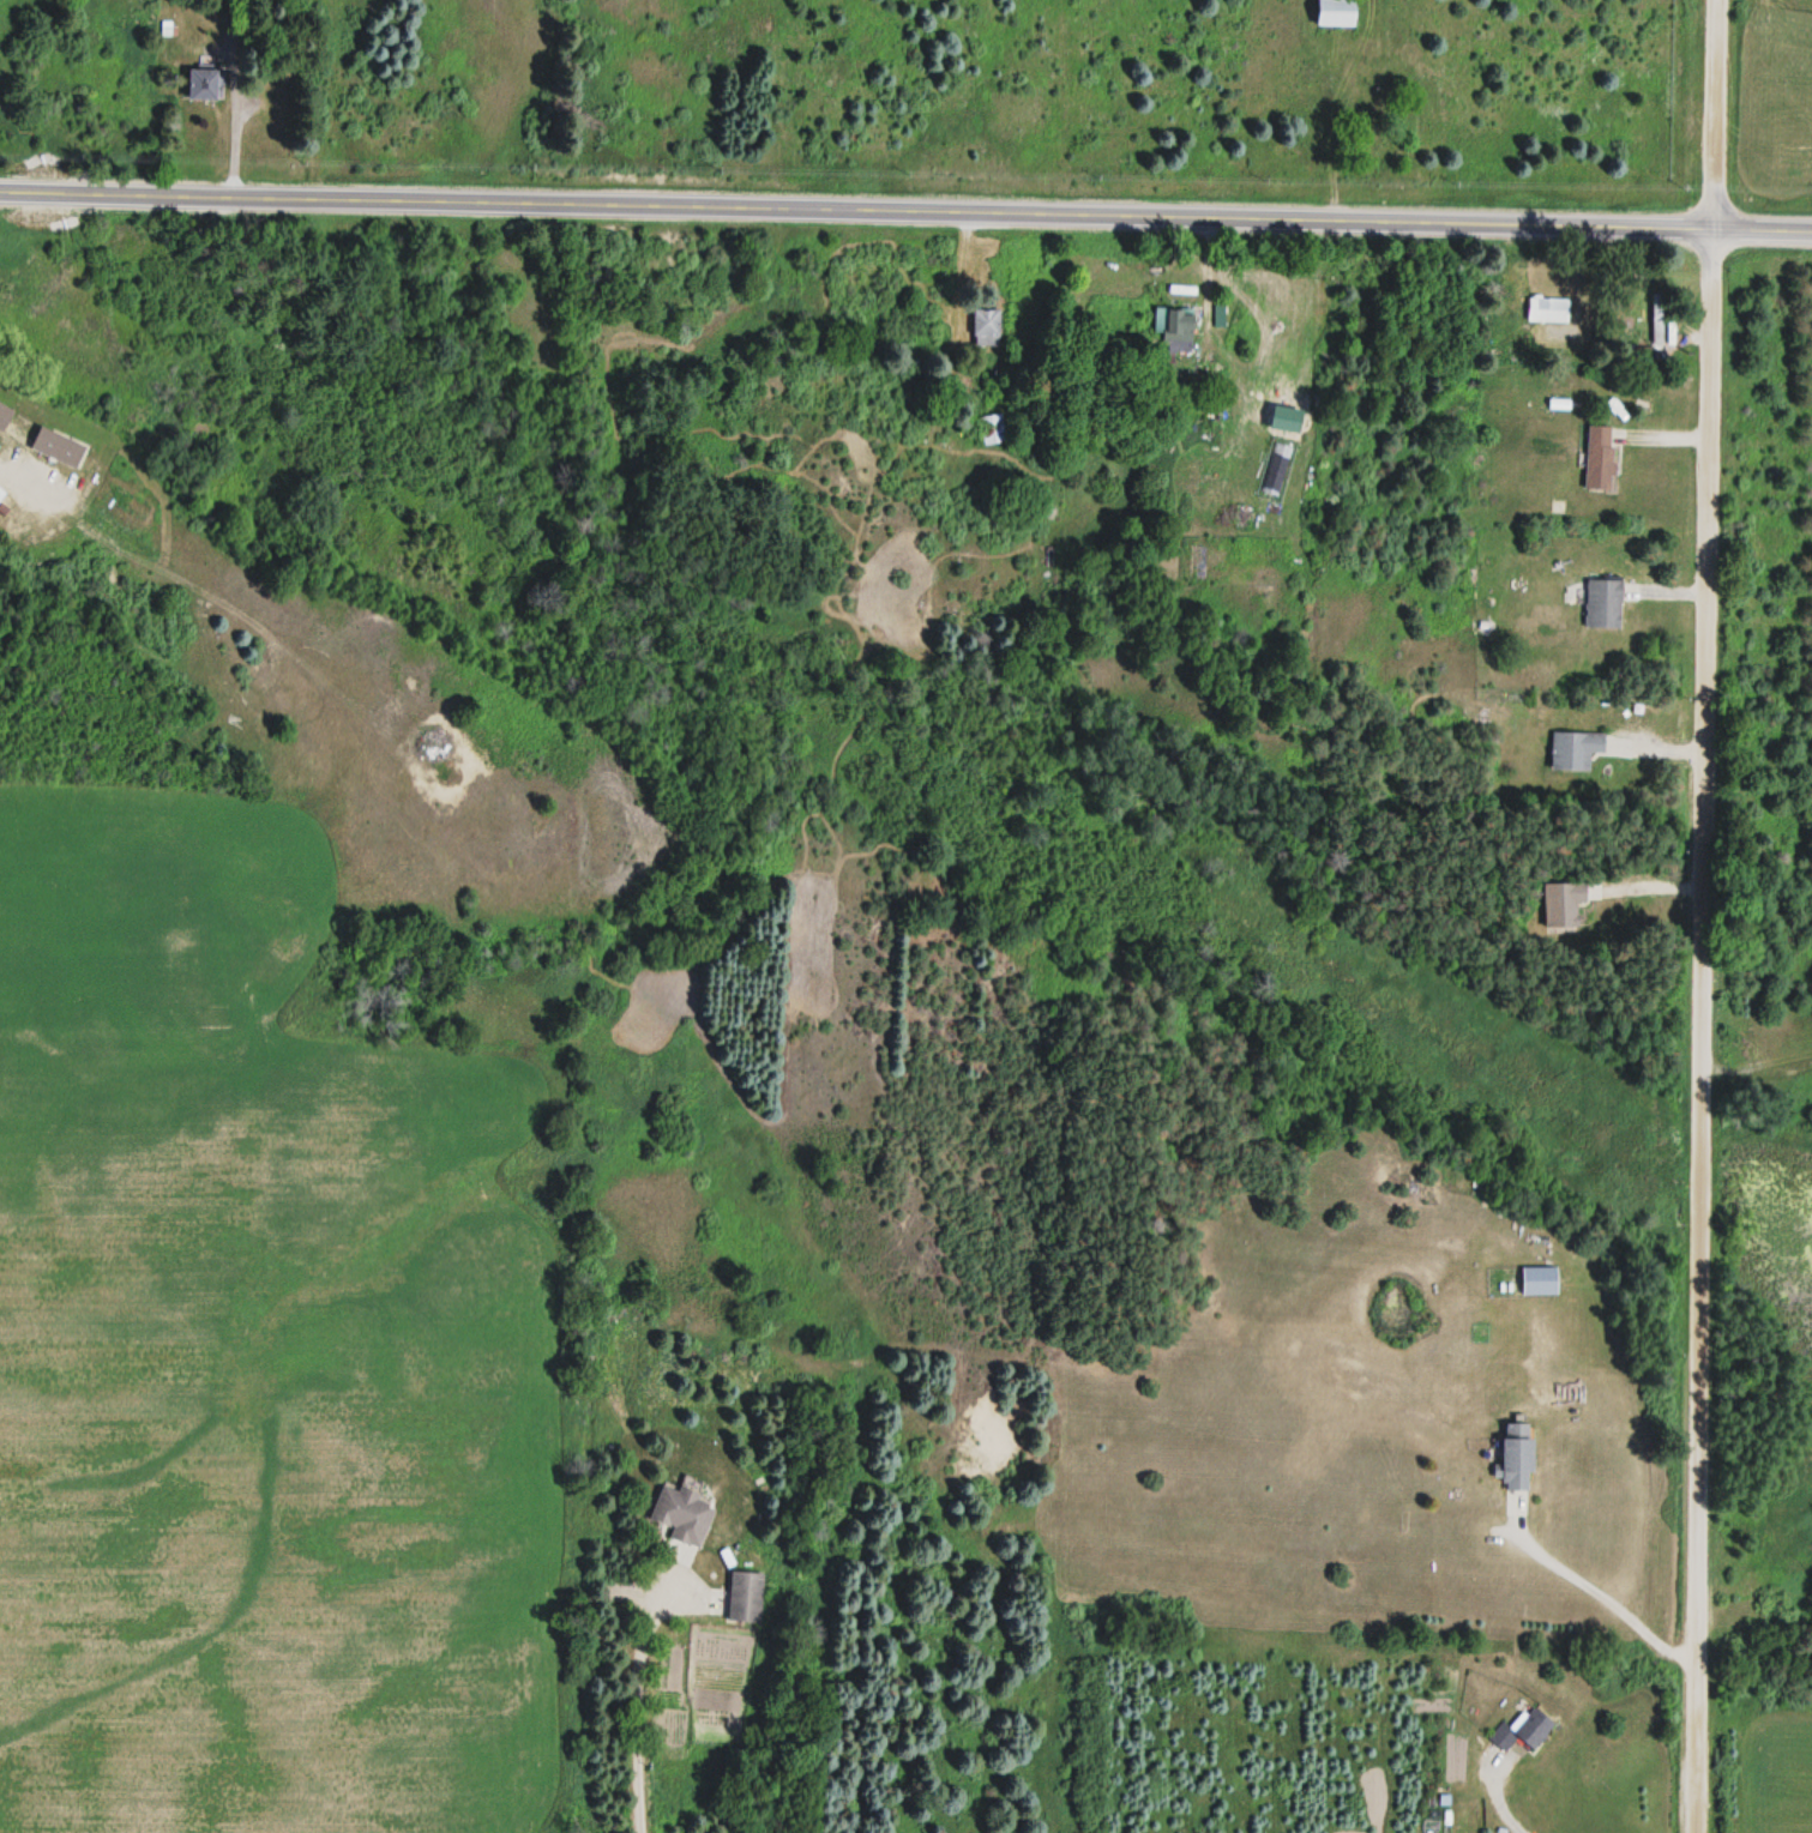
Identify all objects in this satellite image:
building: (1337, 18)
building: (204, 85)
road: (905, 211)
building: (1548, 312)
building: (1657, 319)
building: (986, 328)
building: (1174, 330)
building: (5, 416)
building: (992, 430)
building: (58, 447)
building: (1600, 458)
building: (1, 495)
building: (1603, 605)
building: (1575, 752)
building: (1563, 908)
road: (1694, 916)
building: (1539, 1283)
building: (1518, 1459)
building: (682, 1514)
building: (745, 1598)
building: (1524, 1732)

